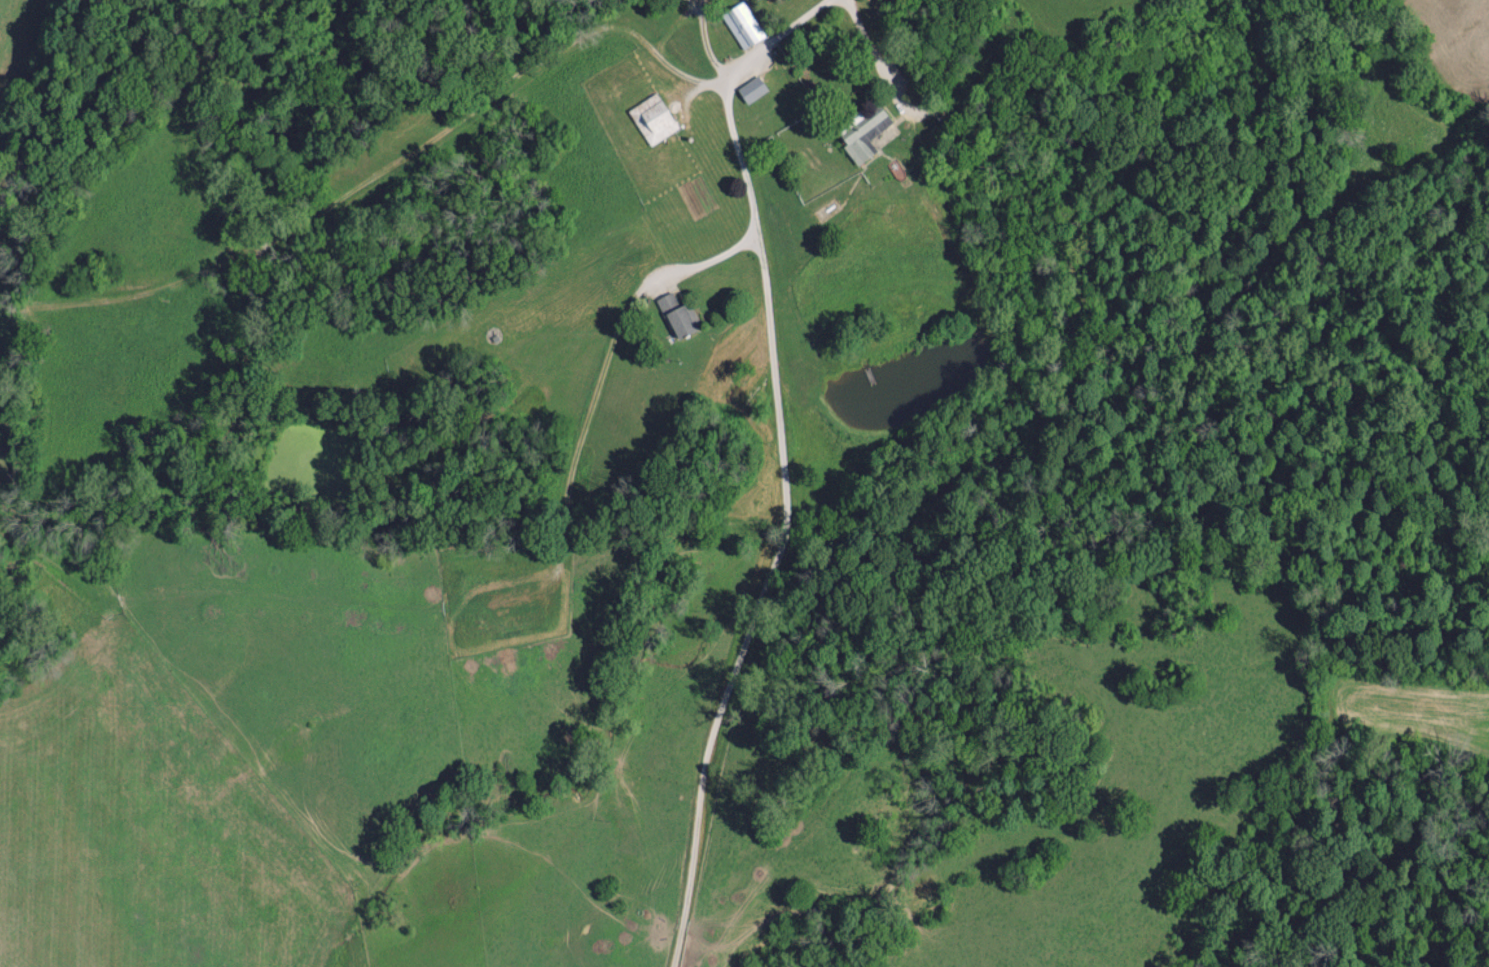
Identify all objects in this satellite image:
building: (742, 25)
building: (752, 88)
building: (652, 118)
building: (864, 135)
building: (678, 315)

